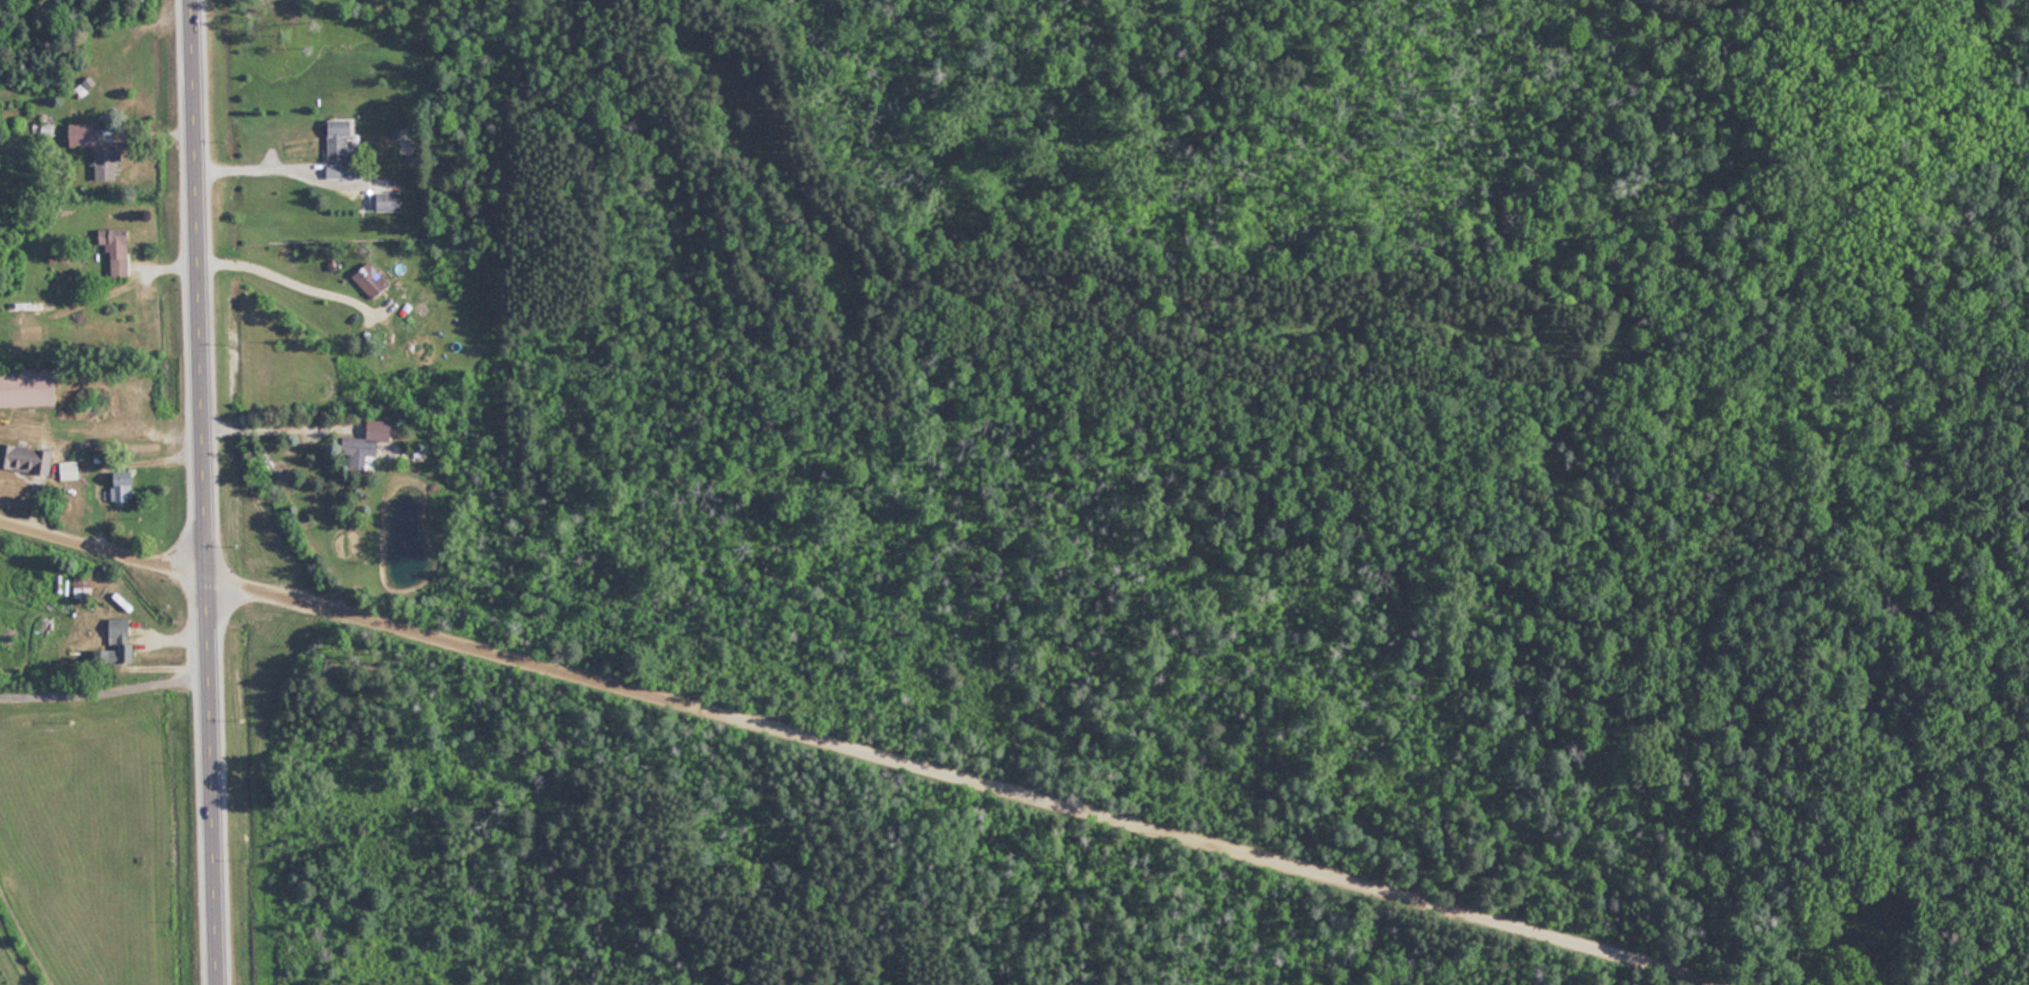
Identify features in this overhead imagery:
building: (84, 135)
building: (341, 150)
building: (106, 165)
road: (263, 168)
building: (389, 201)
building: (117, 250)
road: (289, 280)
building: (372, 280)
building: (29, 388)
road: (281, 429)
building: (365, 449)
building: (24, 458)
building: (70, 471)
building: (124, 488)
road: (206, 492)
park: (1201, 512)
road: (104, 553)
building: (121, 627)
building: (128, 653)
road: (982, 783)

